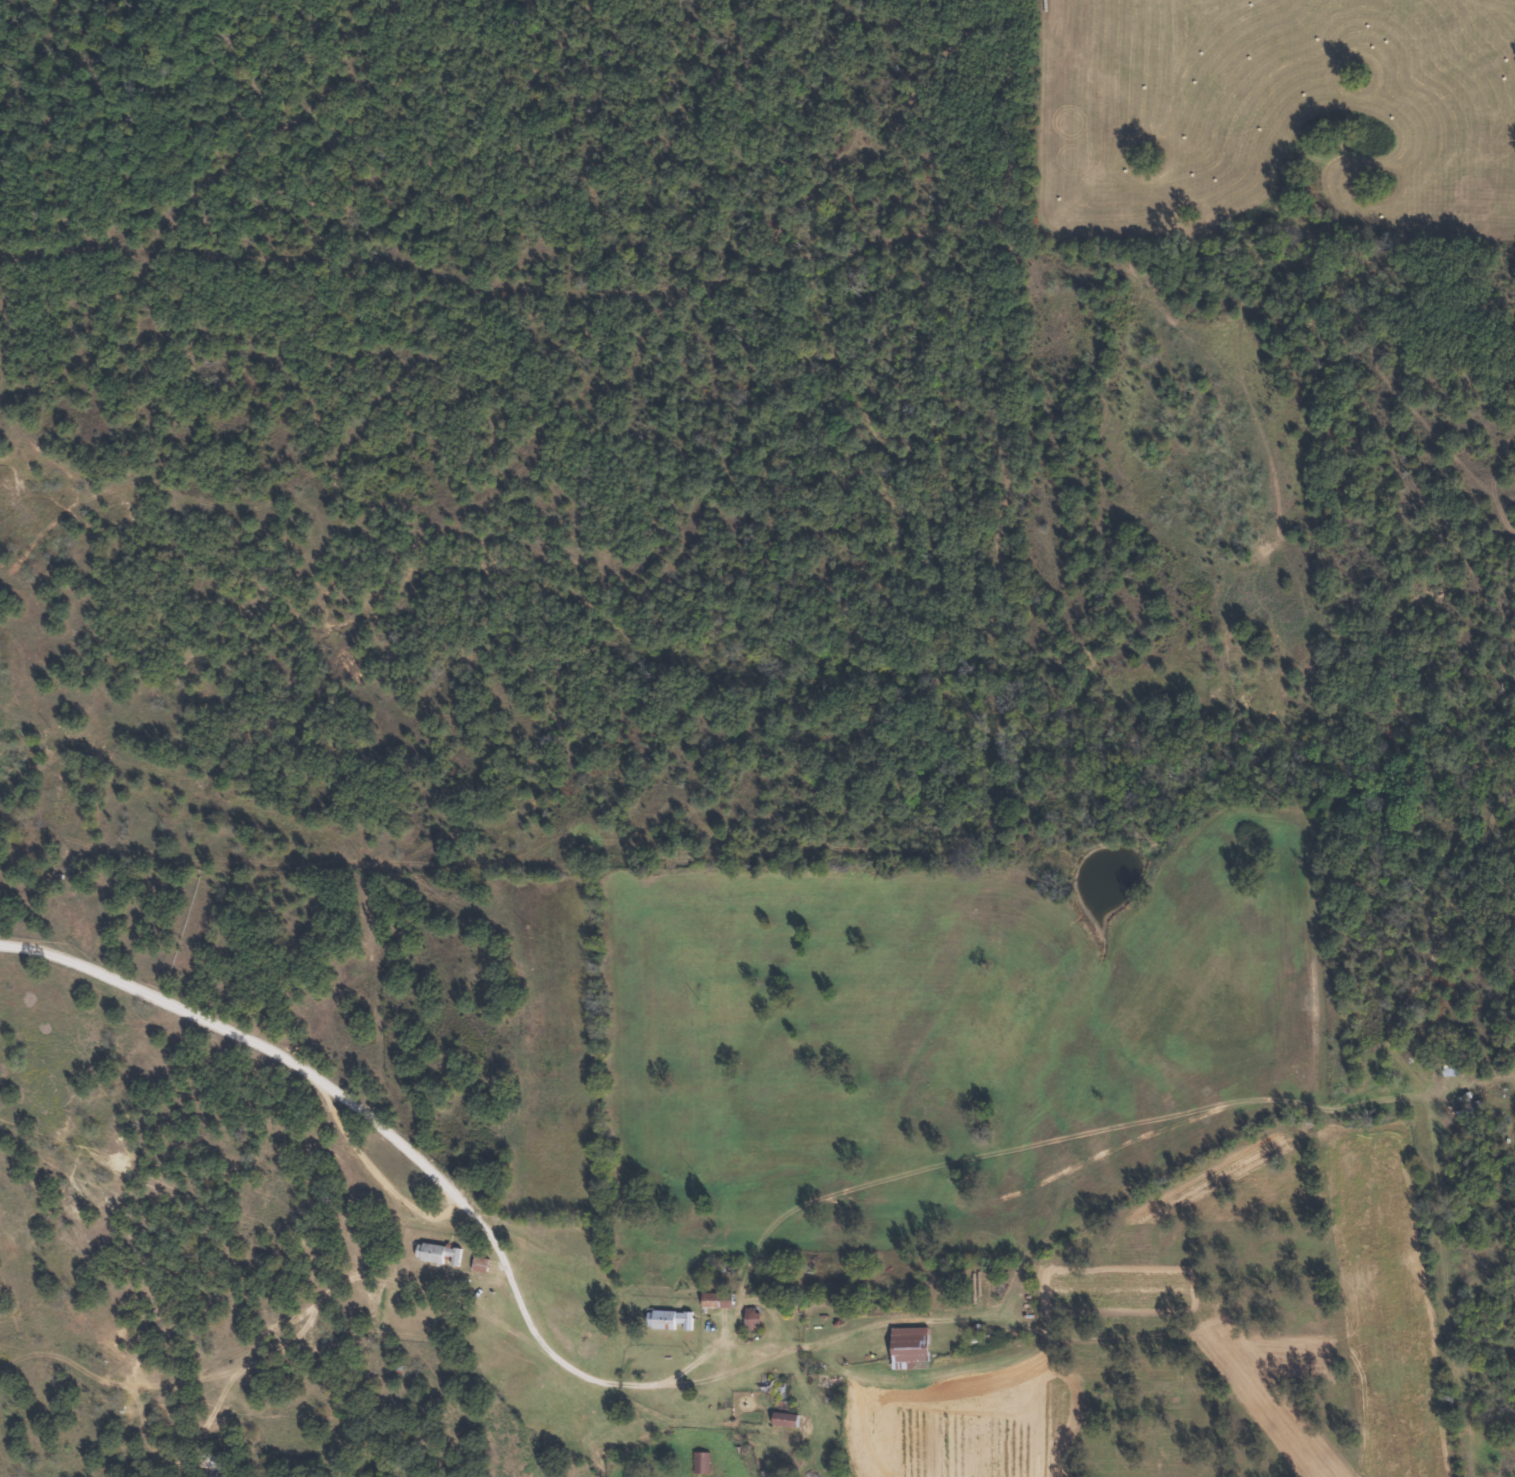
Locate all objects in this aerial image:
road: (324, 1116)
building: (440, 1253)
building: (482, 1263)
building: (719, 1299)
building: (753, 1318)
building: (671, 1319)
building: (912, 1347)
building: (830, 1382)
building: (786, 1419)
building: (703, 1462)

